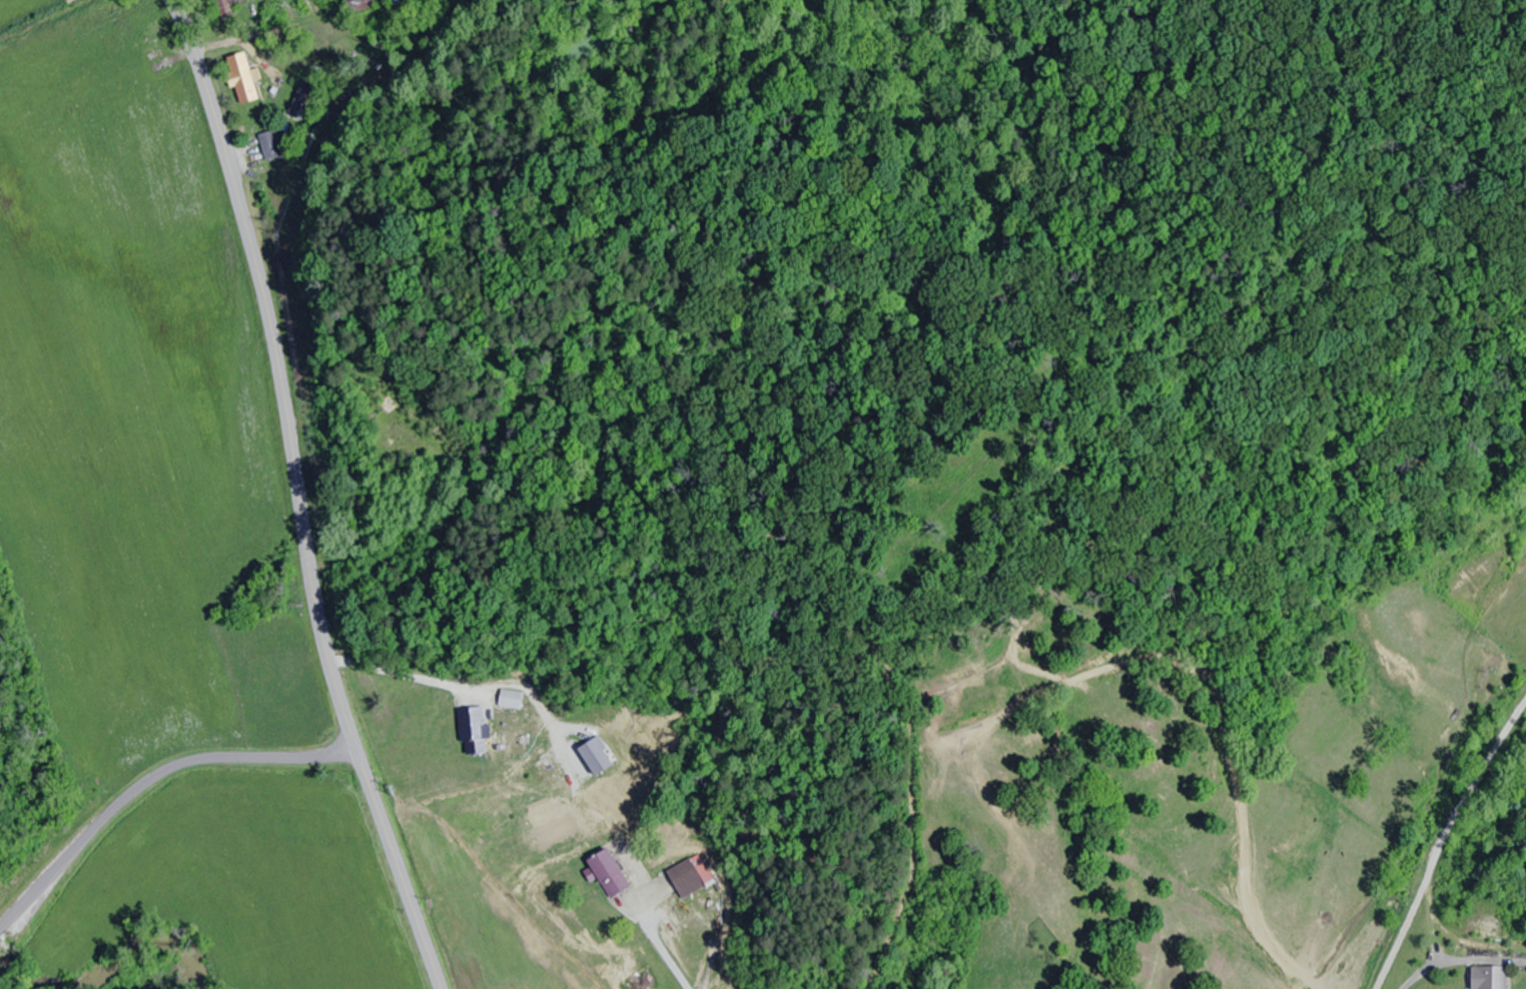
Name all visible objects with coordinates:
building: (231, 4)
building: (270, 145)
road: (297, 496)
building: (508, 698)
building: (470, 728)
road: (141, 783)
building: (606, 873)
building: (688, 876)
road: (737, 927)
building: (1484, 977)

